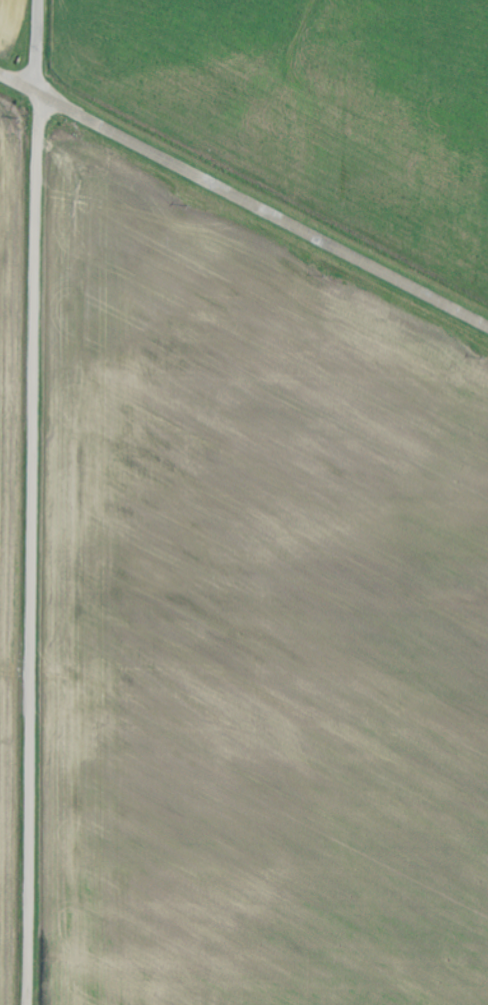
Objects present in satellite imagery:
road: (244, 207)
road: (25, 502)

